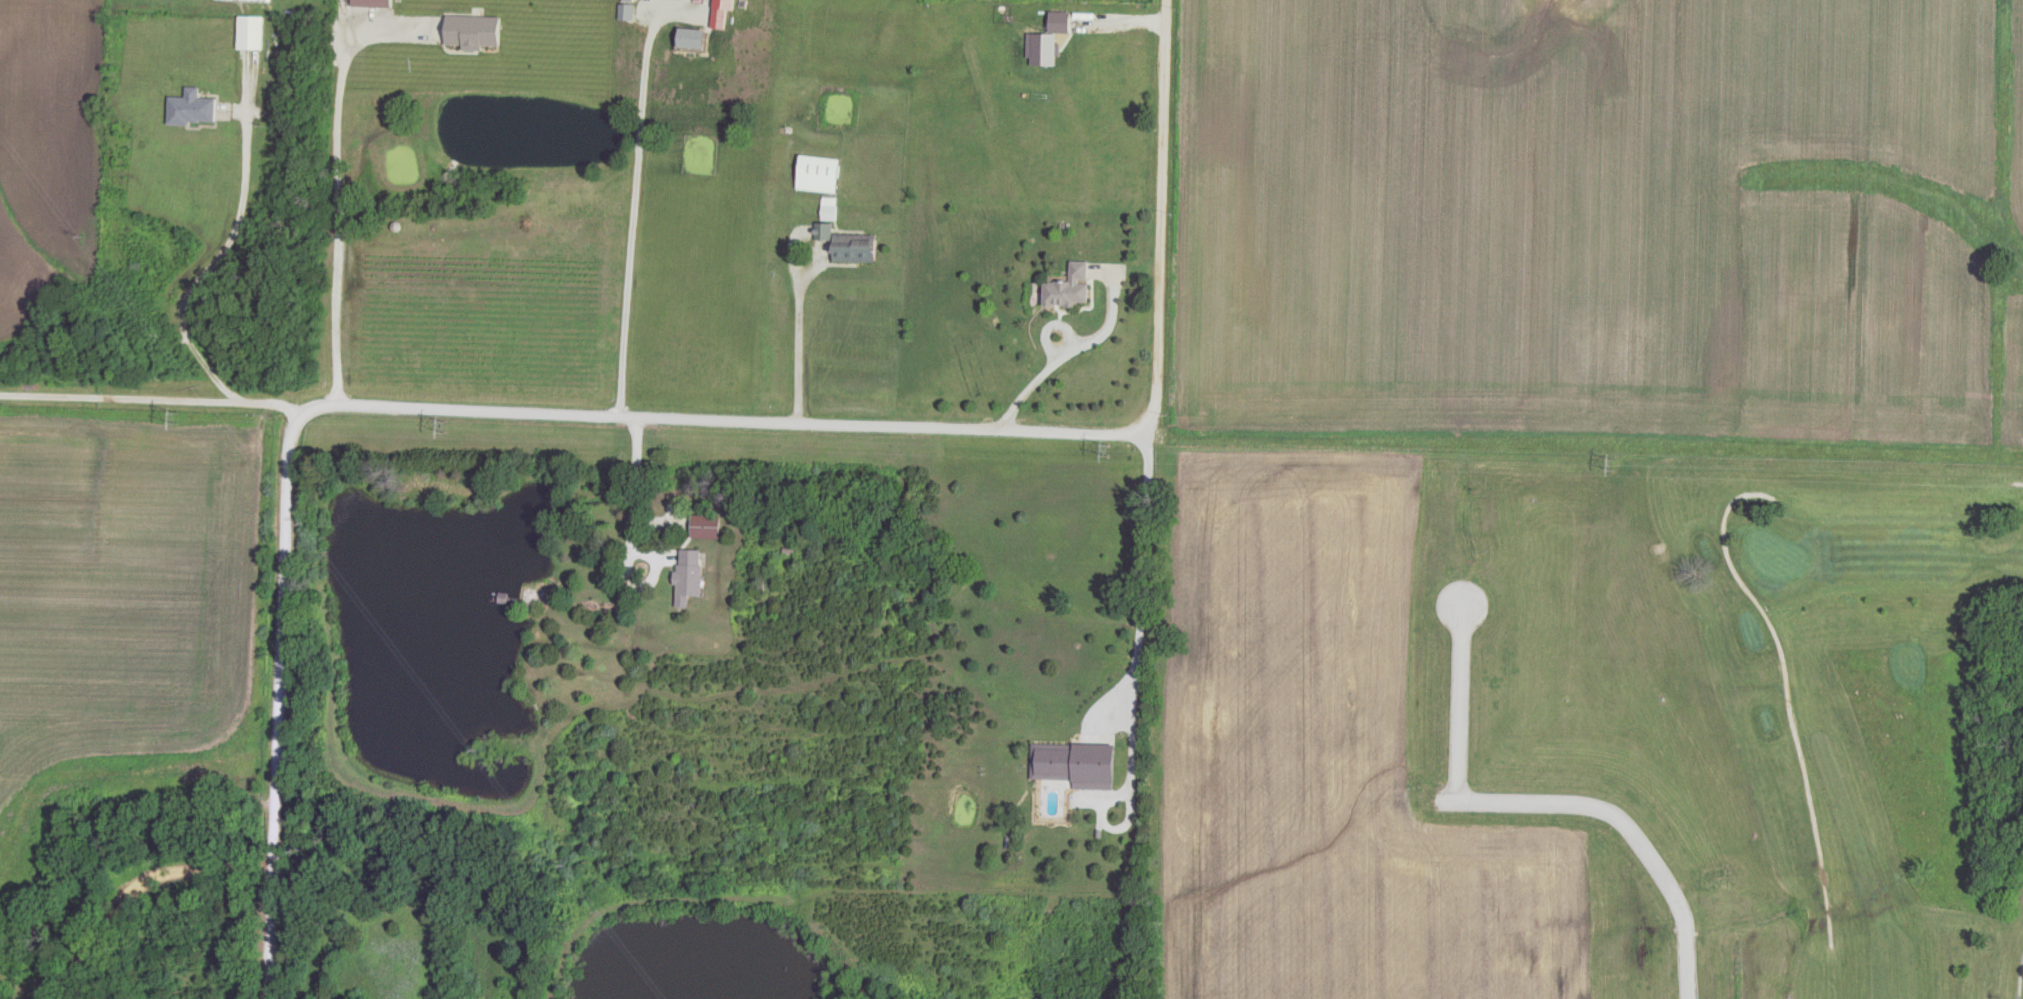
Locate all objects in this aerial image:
building: (718, 18)
building: (250, 33)
building: (689, 39)
building: (191, 109)
building: (829, 209)
crop: (1599, 228)
building: (846, 245)
building: (1068, 288)
road: (603, 391)
power tower: (177, 425)
power tower: (452, 432)
power tower: (1098, 452)
power tower: (1611, 469)
building: (687, 575)
crop: (127, 614)
park: (1846, 694)
crop: (1319, 755)
road: (1537, 813)

